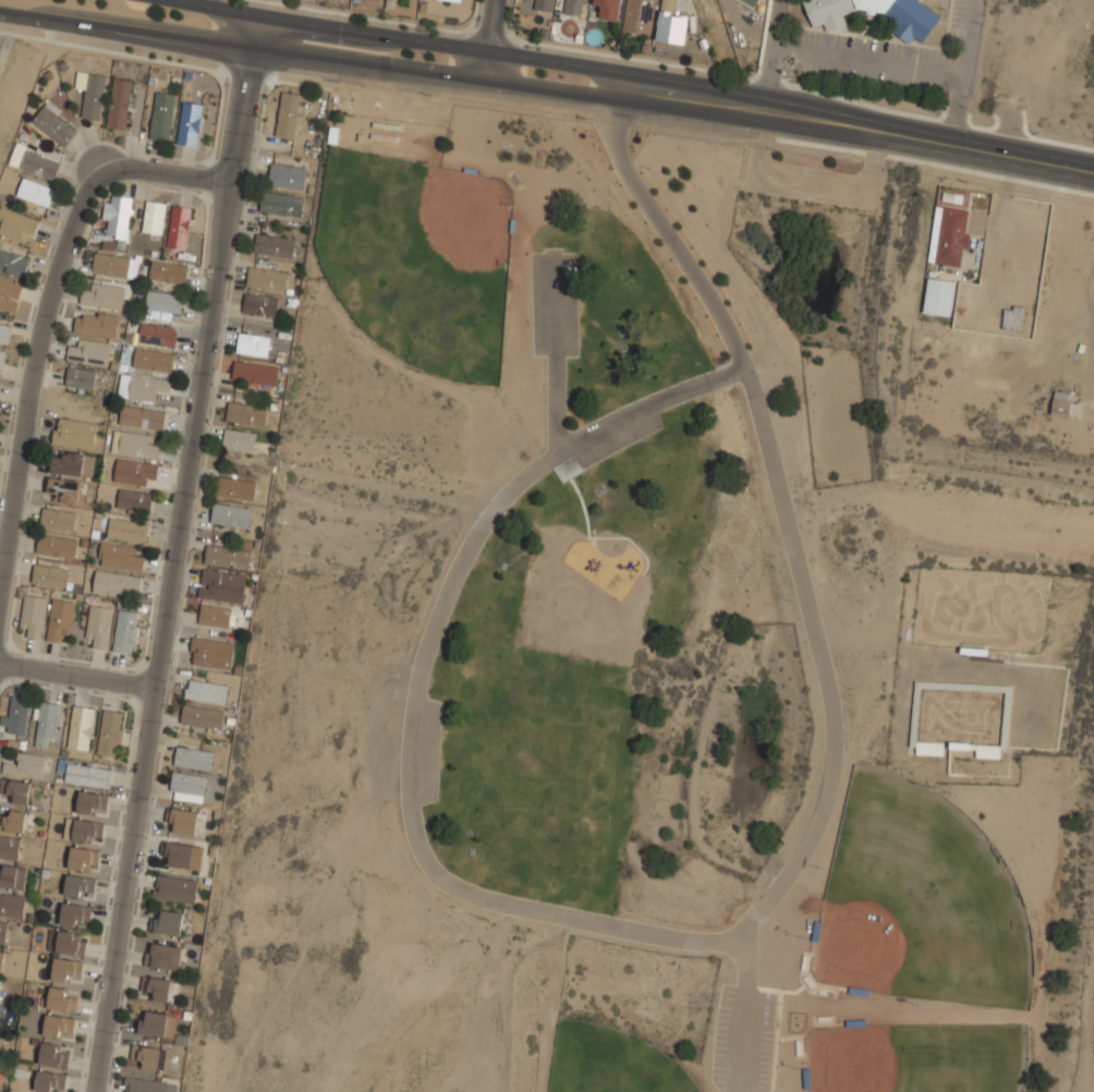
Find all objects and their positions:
building: (451, 0)
building: (749, 1)
building: (543, 4)
building: (573, 8)
building: (608, 9)
building: (637, 15)
building: (915, 21)
building: (670, 24)
road: (401, 37)
road: (489, 39)
road: (308, 57)
road: (777, 57)
road: (870, 61)
parking lot: (889, 61)
road: (960, 74)
building: (92, 94)
building: (119, 104)
building: (288, 114)
building: (161, 116)
building: (190, 123)
building: (56, 124)
road: (856, 130)
building: (37, 165)
road: (165, 172)
building: (287, 175)
building: (34, 194)
building: (956, 198)
building: (281, 203)
building: (118, 215)
building: (154, 216)
building: (16, 225)
building: (179, 227)
building: (949, 234)
building: (273, 244)
park: (418, 258)
building: (13, 264)
building: (110, 265)
building: (168, 271)
building: (266, 277)
building: (9, 294)
building: (104, 295)
building: (939, 296)
building: (163, 301)
parking lot: (554, 303)
building: (260, 304)
building: (95, 324)
building: (4, 331)
building: (157, 333)
building: (253, 344)
building: (89, 351)
road: (555, 354)
building: (1, 357)
building: (153, 359)
building: (255, 373)
building: (81, 377)
road: (33, 381)
building: (144, 386)
building: (1060, 402)
building: (246, 414)
building: (142, 417)
building: (73, 433)
building: (239, 440)
building: (138, 445)
parking lot: (608, 446)
building: (66, 463)
building: (134, 471)
building: (235, 487)
building: (63, 490)
building: (134, 500)
building: (230, 513)
building: (59, 519)
building: (126, 529)
building: (56, 545)
road: (175, 553)
building: (120, 556)
building: (228, 556)
building: (52, 575)
building: (114, 582)
building: (221, 585)
building: (216, 615)
building: (33, 616)
building: (60, 619)
building: (99, 624)
building: (124, 631)
building: (211, 652)
park: (643, 652)
road: (77, 676)
building: (206, 690)
building: (17, 714)
building: (205, 717)
building: (47, 724)
building: (80, 727)
building: (109, 732)
building: (929, 748)
building: (987, 751)
building: (193, 757)
building: (28, 765)
building: (87, 775)
building: (187, 782)
building: (15, 790)
building: (92, 802)
building: (13, 821)
building: (183, 821)
building: (87, 830)
building: (9, 847)
building: (178, 856)
building: (83, 858)
building: (12, 877)
building: (80, 886)
building: (174, 889)
building: (11, 903)
building: (75, 914)
building: (168, 922)
building: (2, 931)
road: (704, 936)
building: (71, 942)
building: (163, 956)
building: (4, 962)
building: (66, 970)
building: (159, 988)
building: (62, 998)
road: (743, 1005)
building: (153, 1022)
building: (57, 1026)
parking lot: (744, 1038)
building: (53, 1053)
building: (146, 1056)
park: (612, 1061)
park: (910, 1067)
building: (49, 1081)
building: (148, 1085)

